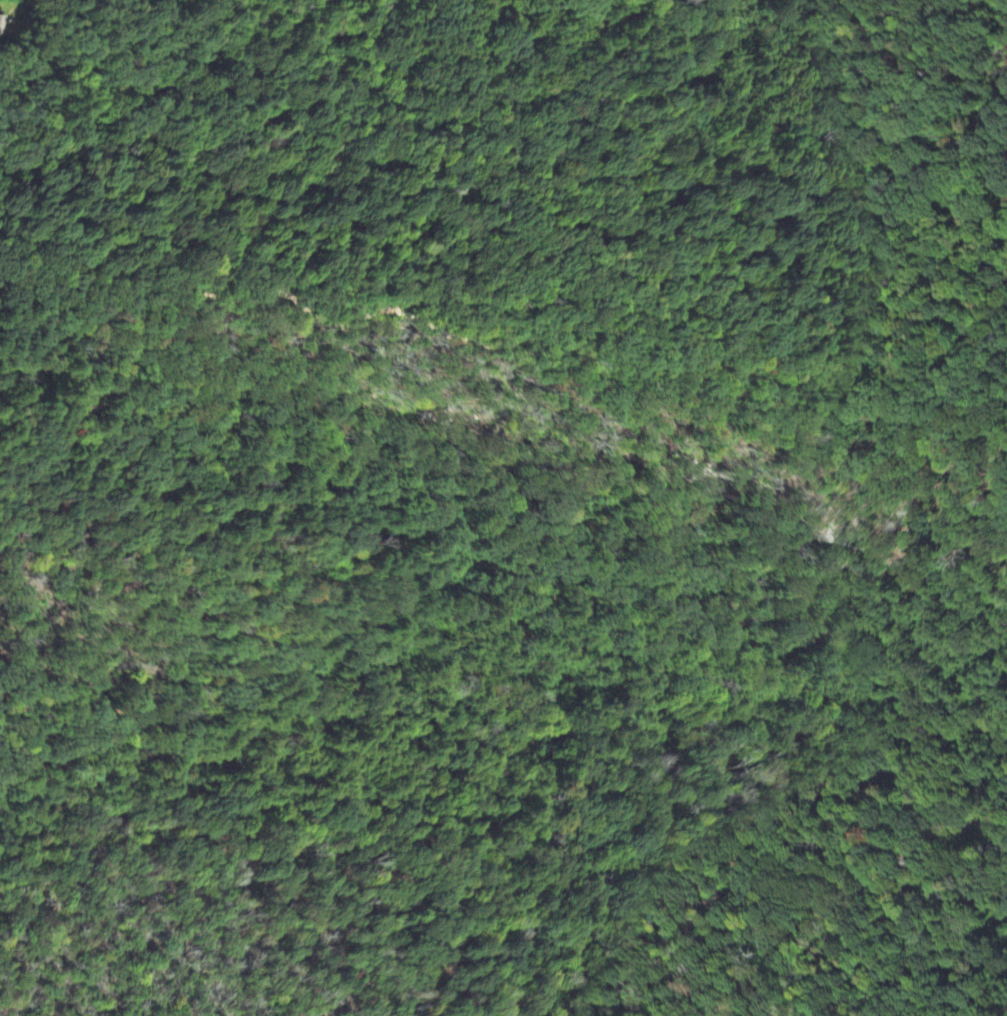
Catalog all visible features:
building: (1, 21)
road: (736, 172)
road: (529, 343)
road: (863, 714)

